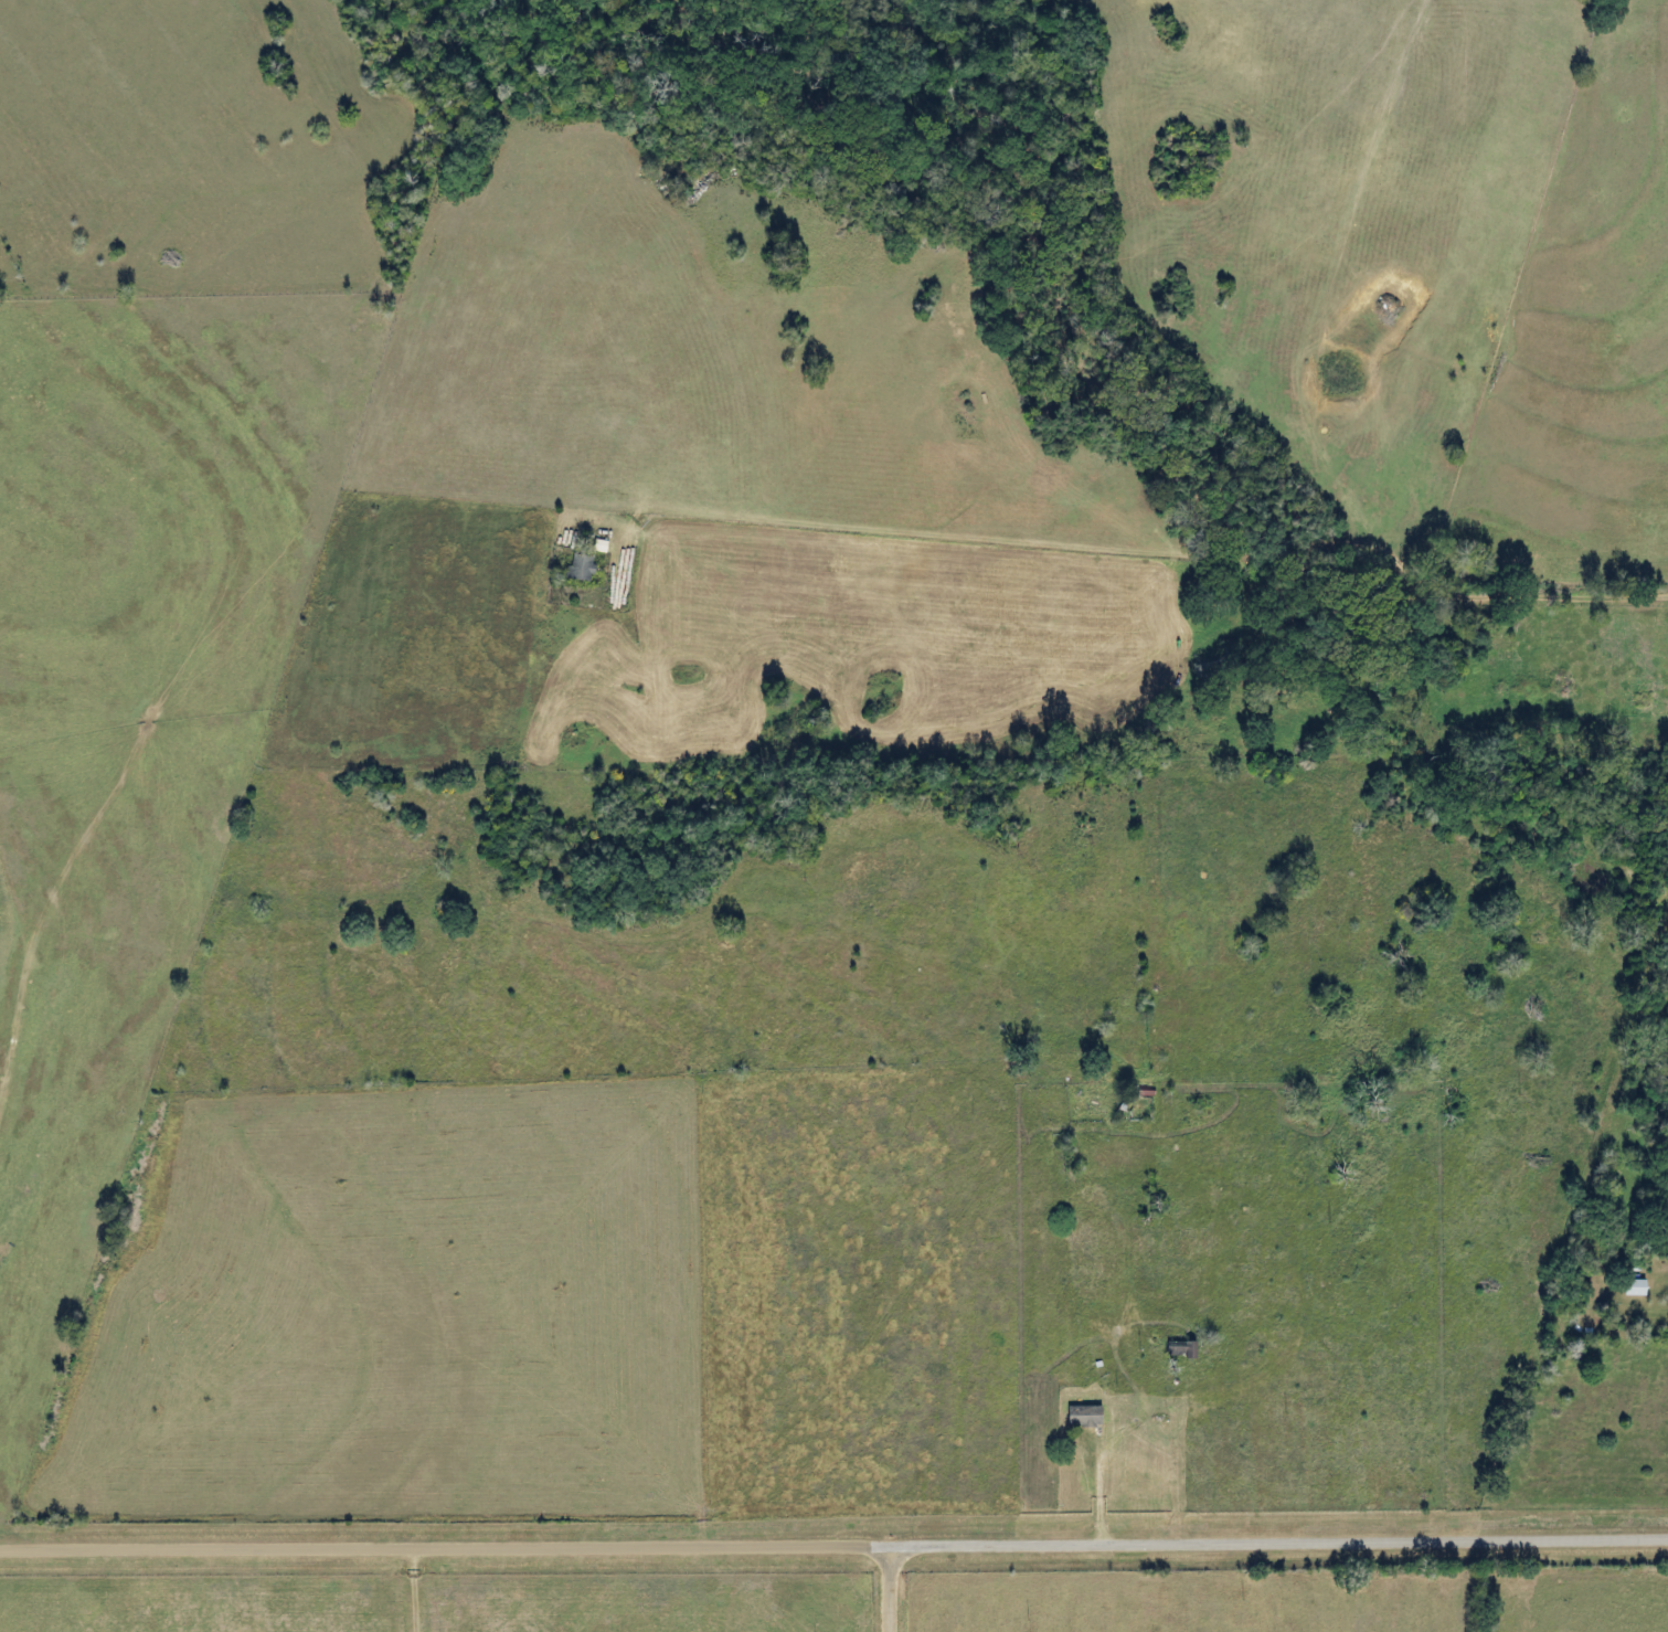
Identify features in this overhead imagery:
building: (573, 568)
road: (969, 698)
building: (1628, 1286)
building: (1076, 1416)
road: (833, 1548)
road: (418, 1588)
road: (885, 1590)

